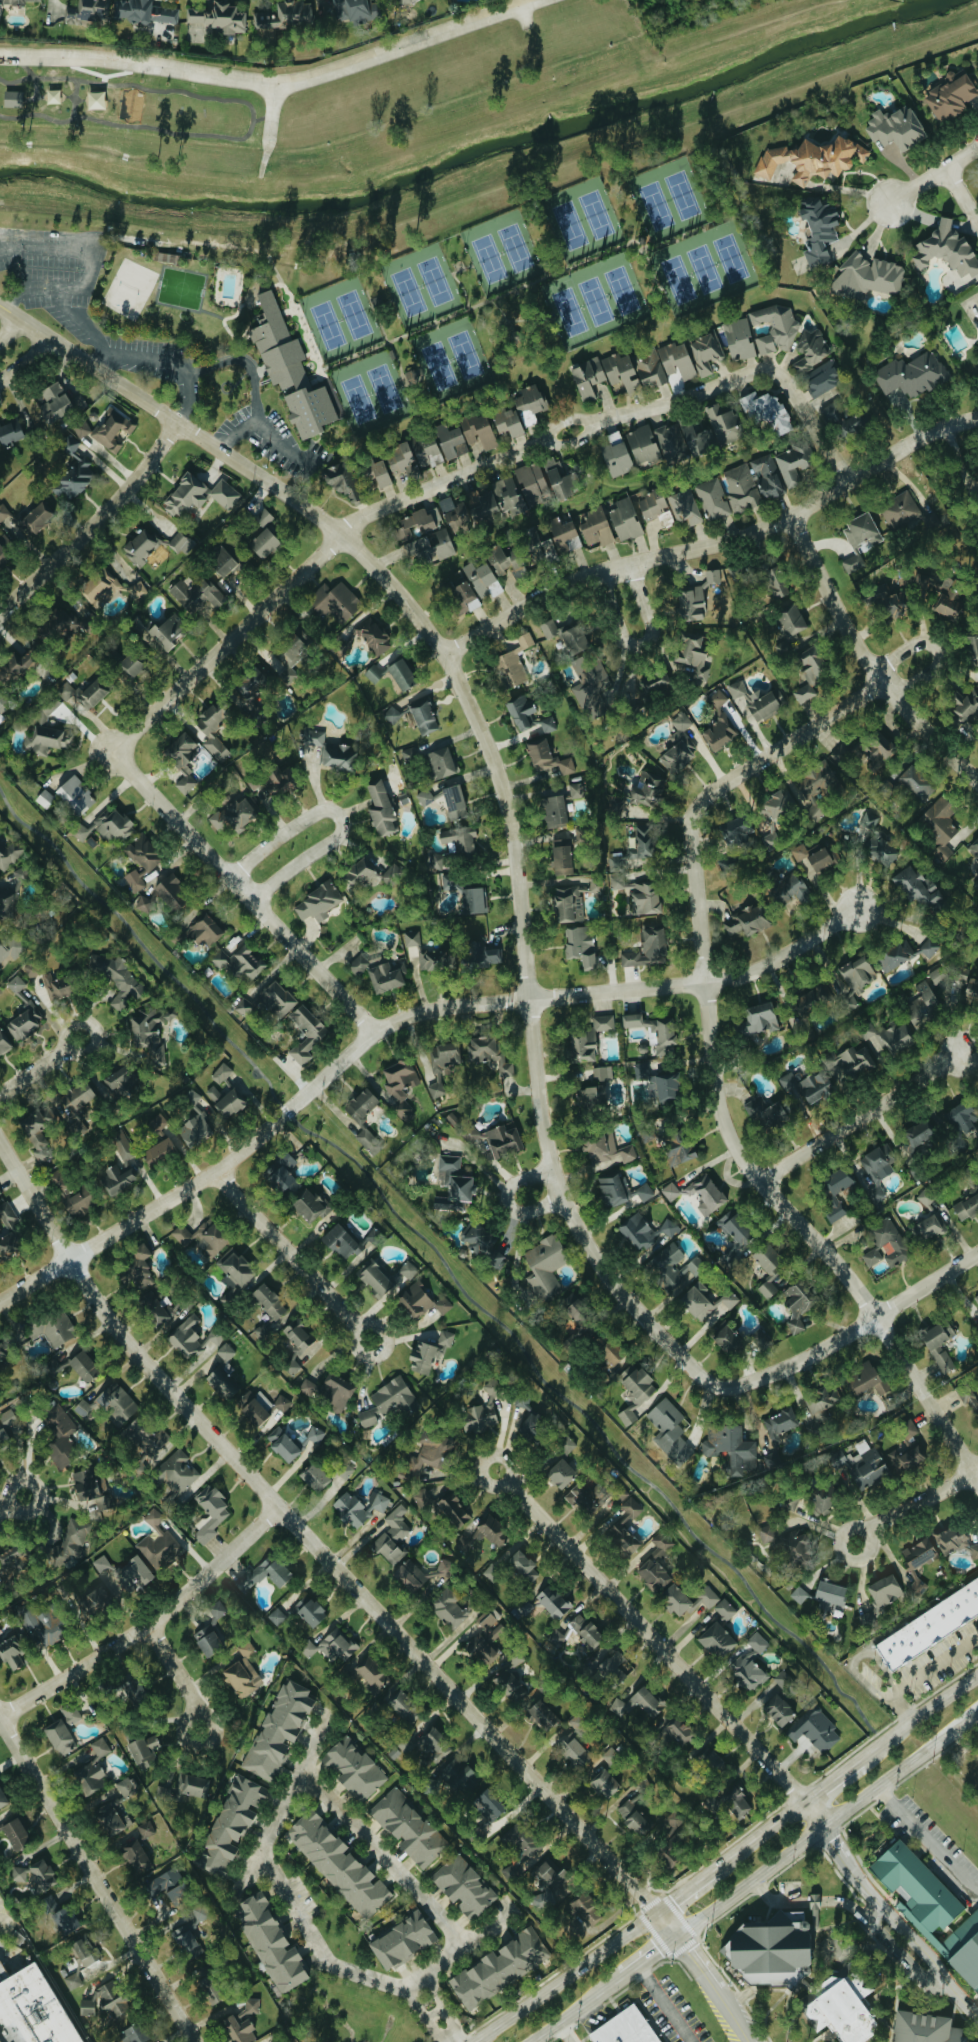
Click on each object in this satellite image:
building: (0, 1)
building: (406, 1)
building: (17, 2)
building: (353, 9)
building: (143, 11)
building: (88, 12)
road: (522, 15)
building: (286, 16)
building: (218, 17)
road: (885, 58)
road: (270, 81)
building: (950, 95)
road: (271, 110)
building: (895, 127)
road: (423, 143)
road: (263, 157)
building: (811, 158)
road: (933, 173)
road: (961, 194)
road: (261, 204)
road: (446, 209)
road: (635, 213)
building: (818, 228)
road: (552, 233)
road: (53, 246)
building: (947, 248)
road: (470, 270)
building: (868, 275)
road: (87, 278)
road: (519, 288)
road: (62, 296)
road: (287, 302)
road: (10, 328)
building: (775, 328)
road: (398, 336)
building: (738, 338)
building: (811, 349)
building: (705, 352)
road: (25, 359)
road: (167, 359)
building: (676, 359)
road: (88, 362)
road: (247, 362)
building: (650, 367)
building: (290, 370)
building: (603, 374)
building: (911, 374)
building: (411, 376)
building: (823, 377)
road: (688, 396)
building: (55, 402)
building: (335, 403)
building: (529, 404)
building: (766, 410)
building: (855, 415)
building: (507, 422)
road: (562, 422)
building: (723, 423)
road: (814, 426)
building: (12, 429)
building: (113, 430)
building: (477, 430)
road: (265, 431)
building: (614, 437)
building: (684, 440)
building: (450, 441)
road: (570, 442)
building: (642, 444)
building: (416, 455)
building: (616, 459)
building: (72, 462)
building: (793, 462)
building: (376, 472)
building: (556, 477)
building: (341, 481)
building: (752, 482)
building: (520, 488)
building: (199, 495)
building: (713, 498)
building: (652, 505)
building: (684, 506)
building: (901, 511)
building: (4, 512)
building: (36, 517)
building: (263, 517)
building: (625, 520)
road: (95, 522)
building: (412, 524)
building: (596, 527)
building: (861, 529)
building: (251, 533)
building: (557, 539)
building: (181, 542)
building: (262, 542)
road: (713, 544)
building: (141, 545)
building: (435, 545)
building: (3, 556)
building: (221, 561)
building: (506, 562)
building: (853, 563)
road: (304, 569)
building: (716, 576)
building: (484, 581)
building: (97, 584)
building: (779, 586)
building: (197, 594)
building: (463, 597)
building: (888, 600)
building: (948, 601)
building: (335, 605)
building: (688, 606)
building: (791, 619)
building: (59, 623)
building: (549, 628)
building: (167, 633)
building: (374, 637)
building: (576, 638)
building: (526, 640)
road: (639, 645)
road: (936, 647)
building: (972, 648)
building: (290, 651)
building: (691, 656)
road: (866, 661)
building: (12, 664)
building: (129, 666)
building: (511, 668)
building: (810, 672)
building: (373, 673)
building: (401, 674)
building: (253, 682)
building: (64, 689)
building: (592, 689)
building: (737, 689)
building: (93, 692)
building: (774, 693)
building: (3, 703)
building: (963, 703)
building: (761, 704)
building: (520, 711)
building: (391, 714)
building: (424, 716)
building: (719, 723)
building: (548, 724)
building: (214, 726)
building: (48, 729)
building: (679, 745)
building: (333, 752)
building: (846, 753)
building: (410, 754)
building: (548, 758)
building: (182, 760)
building: (442, 762)
building: (273, 780)
building: (913, 780)
building: (816, 781)
building: (649, 787)
building: (577, 790)
building: (75, 795)
building: (425, 796)
building: (454, 801)
building: (776, 804)
building: (381, 808)
building: (555, 810)
building: (231, 814)
road: (336, 815)
building: (115, 826)
building: (939, 827)
building: (735, 829)
building: (81, 831)
building: (876, 840)
building: (461, 842)
building: (642, 844)
building: (974, 849)
building: (561, 854)
building: (10, 855)
building: (812, 856)
building: (141, 861)
building: (617, 863)
road: (516, 867)
building: (356, 875)
building: (448, 881)
building: (597, 886)
building: (915, 886)
building: (786, 887)
road: (242, 891)
building: (172, 892)
building: (646, 898)
building: (474, 900)
building: (7, 902)
building: (318, 902)
building: (145, 904)
building: (568, 904)
building: (746, 920)
building: (205, 930)
building: (580, 945)
building: (930, 947)
building: (647, 948)
building: (3, 951)
building: (429, 953)
building: (483, 954)
building: (895, 954)
building: (241, 962)
building: (381, 972)
building: (937, 975)
building: (118, 979)
building: (17, 983)
building: (56, 986)
building: (972, 989)
building: (276, 999)
building: (923, 1006)
building: (247, 1007)
building: (760, 1019)
road: (395, 1021)
building: (25, 1022)
building: (654, 1029)
building: (869, 1030)
building: (305, 1032)
building: (148, 1034)
building: (898, 1037)
building: (588, 1039)
building: (4, 1043)
building: (441, 1063)
building: (851, 1063)
road: (41, 1065)
building: (640, 1070)
building: (222, 1073)
building: (603, 1073)
road: (712, 1073)
building: (399, 1077)
building: (121, 1083)
building: (807, 1087)
building: (665, 1090)
building: (214, 1093)
building: (189, 1095)
building: (77, 1098)
building: (593, 1098)
building: (230, 1103)
building: (361, 1104)
building: (766, 1112)
road: (860, 1116)
building: (957, 1119)
building: (196, 1130)
building: (40, 1132)
building: (473, 1134)
building: (916, 1135)
building: (503, 1140)
building: (369, 1141)
building: (123, 1145)
building: (606, 1148)
building: (679, 1151)
building: (160, 1152)
building: (877, 1160)
building: (281, 1172)
building: (117, 1179)
building: (61, 1180)
building: (454, 1184)
building: (612, 1190)
building: (671, 1191)
building: (644, 1192)
building: (835, 1192)
building: (0, 1193)
building: (705, 1195)
building: (926, 1197)
road: (506, 1201)
building: (77, 1203)
building: (307, 1205)
building: (967, 1205)
building: (670, 1227)
building: (928, 1227)
building: (7, 1230)
building: (638, 1232)
building: (737, 1234)
building: (203, 1237)
building: (340, 1242)
building: (483, 1244)
building: (887, 1245)
road: (291, 1255)
road: (444, 1262)
building: (545, 1266)
building: (672, 1267)
building: (768, 1267)
building: (237, 1268)
building: (137, 1269)
building: (409, 1270)
building: (375, 1279)
building: (976, 1297)
building: (269, 1301)
building: (421, 1301)
building: (705, 1301)
building: (797, 1305)
building: (154, 1307)
road: (854, 1329)
building: (50, 1330)
building: (264, 1331)
building: (192, 1338)
building: (726, 1339)
building: (300, 1340)
building: (939, 1344)
building: (226, 1351)
building: (429, 1353)
building: (612, 1353)
building: (1, 1362)
building: (83, 1366)
building: (293, 1366)
building: (57, 1367)
building: (222, 1379)
building: (866, 1379)
building: (636, 1384)
building: (308, 1386)
building: (336, 1392)
building: (969, 1399)
building: (388, 1401)
building: (522, 1402)
building: (283, 1403)
building: (116, 1404)
building: (820, 1407)
building: (83, 1408)
building: (255, 1411)
building: (481, 1413)
building: (628, 1415)
building: (6, 1418)
building: (780, 1422)
building: (532, 1428)
building: (671, 1429)
building: (59, 1434)
building: (316, 1434)
building: (4, 1440)
building: (145, 1441)
building: (566, 1443)
building: (283, 1445)
building: (730, 1448)
building: (906, 1448)
building: (430, 1452)
building: (773, 1459)
building: (862, 1467)
building: (344, 1469)
building: (176, 1472)
building: (560, 1474)
building: (315, 1477)
building: (88, 1486)
building: (423, 1498)
building: (583, 1499)
building: (823, 1499)
road: (11, 1501)
building: (378, 1501)
building: (105, 1502)
road: (914, 1504)
building: (352, 1510)
building: (453, 1511)
building: (210, 1513)
building: (625, 1528)
building: (491, 1532)
building: (393, 1533)
building: (766, 1535)
building: (951, 1541)
building: (158, 1542)
building: (463, 1544)
building: (70, 1545)
building: (661, 1546)
building: (796, 1548)
building: (974, 1552)
road: (321, 1553)
building: (918, 1560)
building: (12, 1561)
building: (521, 1566)
building: (491, 1572)
building: (264, 1574)
building: (426, 1575)
building: (652, 1575)
building: (73, 1584)
building: (884, 1591)
building: (829, 1593)
building: (799, 1595)
building: (687, 1600)
building: (91, 1601)
building: (552, 1602)
building: (448, 1608)
building: (218, 1609)
building: (725, 1609)
building: (311, 1613)
building: (278, 1616)
road: (148, 1623)
building: (41, 1626)
building: (929, 1626)
building: (581, 1633)
road: (648, 1635)
building: (485, 1637)
building: (207, 1641)
building: (716, 1641)
building: (758, 1642)
building: (332, 1645)
building: (13, 1650)
building: (517, 1657)
road: (853, 1659)
building: (609, 1665)
building: (243, 1672)
road: (923, 1672)
road: (180, 1674)
building: (371, 1674)
building: (748, 1674)
building: (510, 1687)
building: (639, 1704)
building: (403, 1706)
building: (778, 1710)
building: (71, 1713)
road: (916, 1714)
building: (542, 1716)
building: (278, 1730)
building: (814, 1730)
building: (675, 1734)
building: (60, 1737)
building: (143, 1748)
building: (426, 1748)
building: (572, 1750)
building: (711, 1761)
building: (354, 1768)
building: (93, 1769)
road: (829, 1780)
building: (464, 1781)
building: (193, 1784)
building: (605, 1784)
road: (290, 1785)
building: (128, 1786)
building: (431, 1786)
building: (2, 1798)
building: (736, 1801)
building: (488, 1804)
building: (634, 1816)
building: (114, 1819)
building: (675, 1819)
road: (825, 1823)
building: (408, 1827)
building: (147, 1829)
building: (16, 1832)
road: (756, 1835)
road: (927, 1838)
parking lot: (935, 1847)
road: (383, 1856)
building: (338, 1864)
building: (535, 1868)
building: (19, 1874)
building: (41, 1874)
road: (97, 1881)
building: (167, 1886)
building: (463, 1886)
building: (915, 1888)
road: (683, 1890)
building: (586, 1909)
road: (887, 1909)
traffic signals: (656, 1910)
building: (61, 1915)
building: (188, 1936)
traffic signals: (676, 1938)
building: (402, 1939)
building: (269, 1942)
road: (314, 1942)
building: (771, 1949)
building: (83, 1950)
road: (456, 1951)
road: (648, 1957)
building: (498, 1967)
road: (565, 1976)
building: (74, 1980)
road: (715, 1987)
building: (209, 1988)
building: (111, 1998)
road: (664, 2004)
building: (87, 2006)
road: (443, 2007)
building: (31, 2008)
road: (576, 2009)
building: (845, 2010)
parking lot: (670, 2012)
road: (424, 2017)
building: (243, 2022)
building: (619, 2026)
building: (924, 2028)
building: (133, 2033)
road: (563, 2033)
parking lot: (763, 2040)

